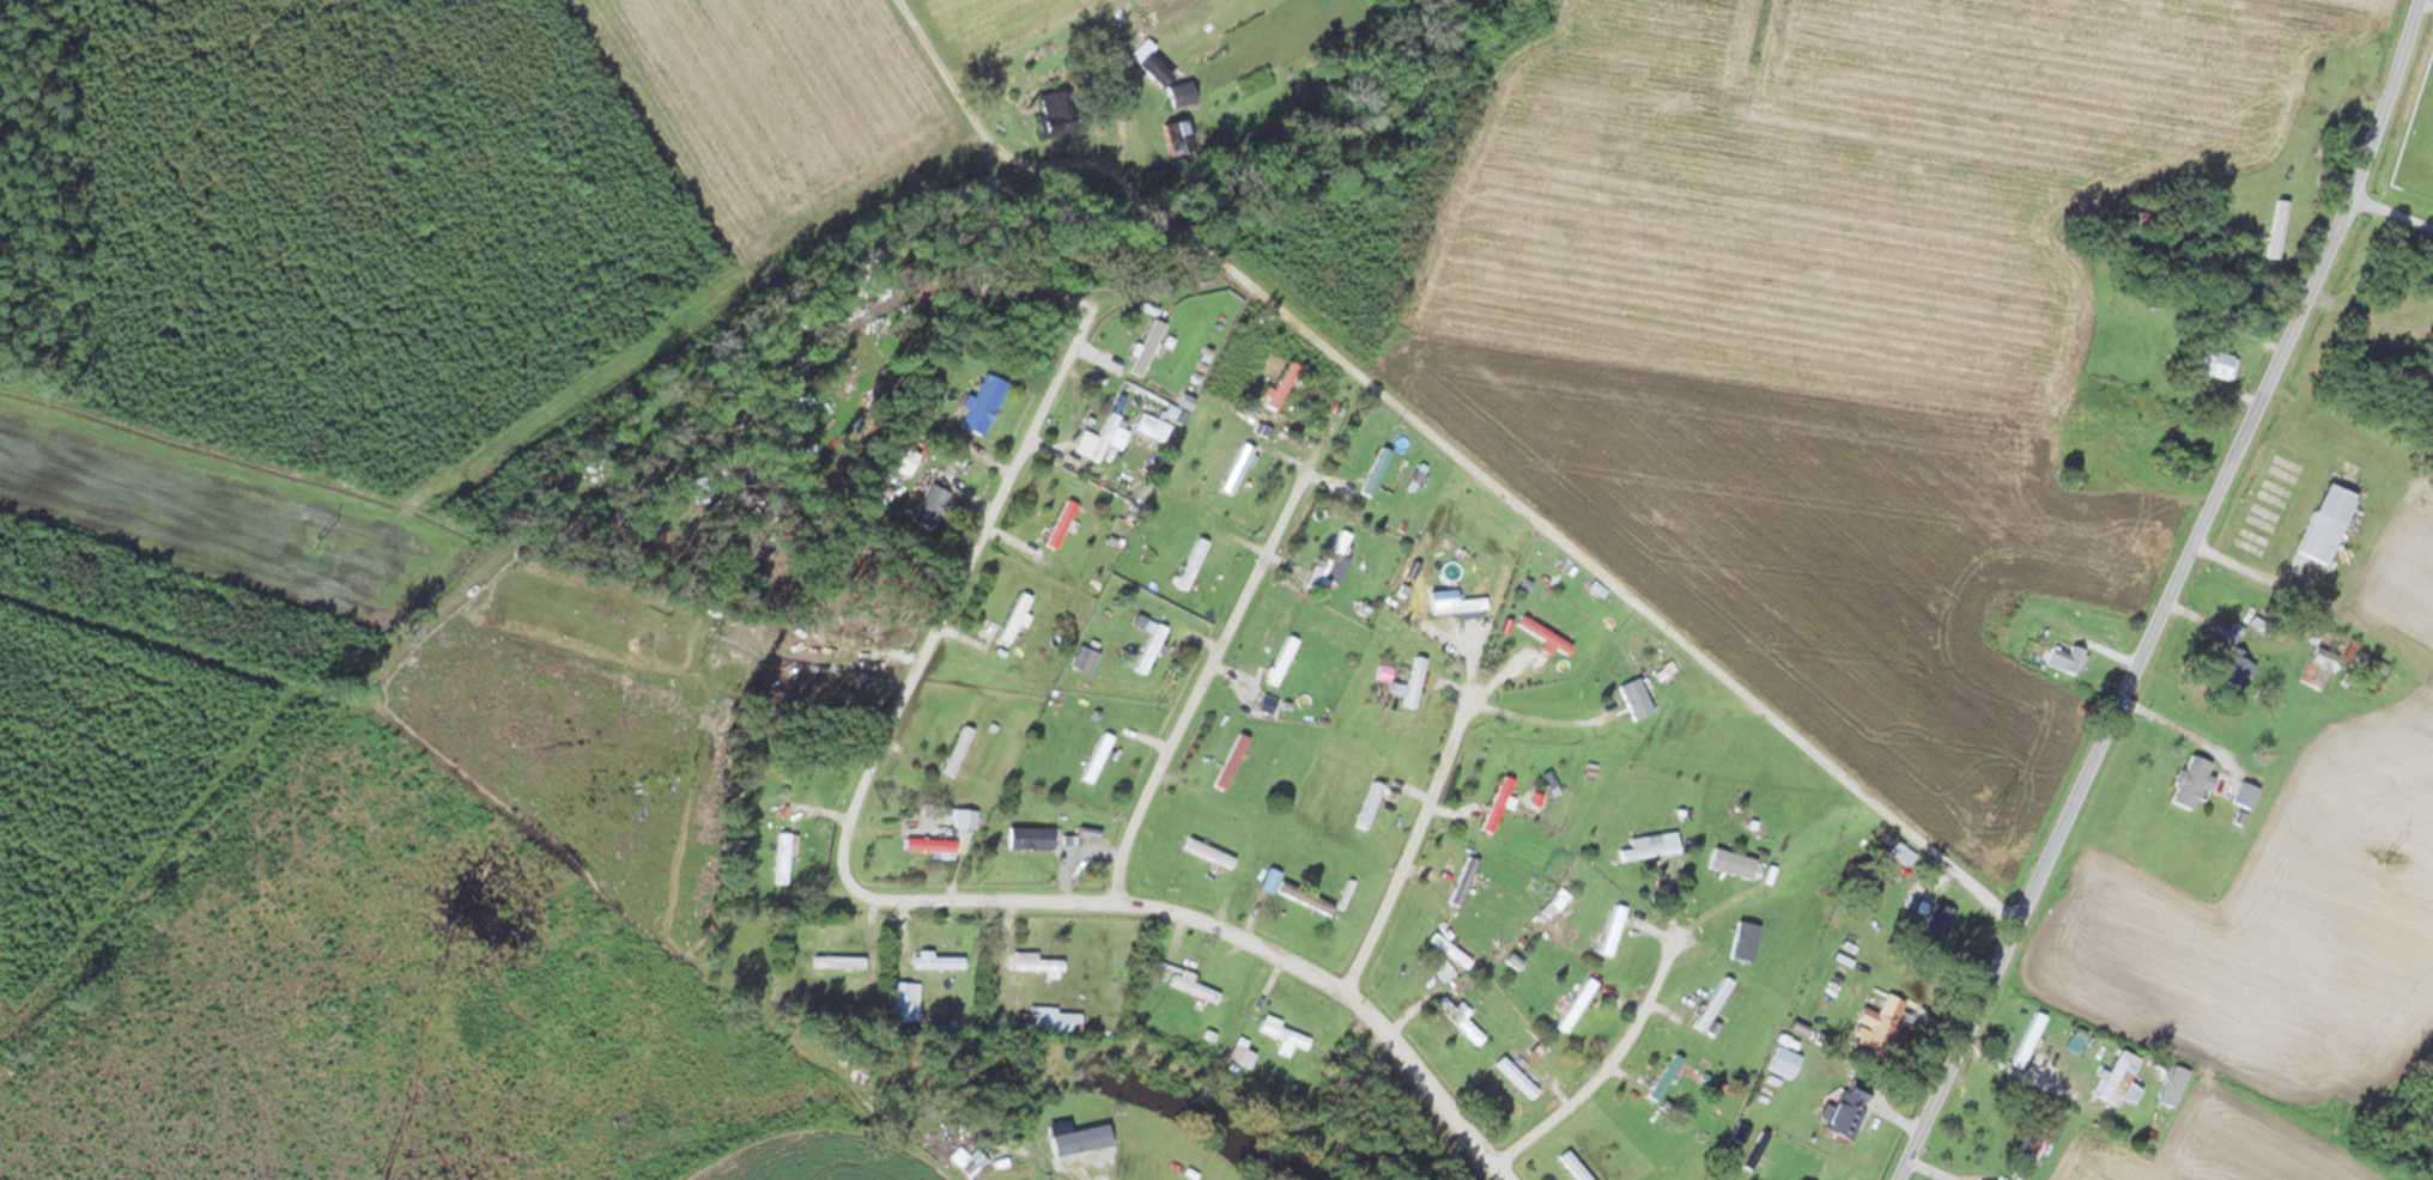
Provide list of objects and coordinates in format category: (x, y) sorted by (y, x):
building: (1177, 16)
building: (1148, 65)
building: (1178, 95)
building: (1173, 138)
building: (2140, 213)
road: (2395, 215)
building: (1145, 352)
building: (2217, 365)
building: (1281, 385)
building: (982, 405)
building: (1152, 425)
building: (1104, 437)
building: (2170, 464)
building: (1237, 469)
building: (1375, 473)
road: (1488, 485)
building: (928, 507)
building: (2324, 524)
building: (1060, 525)
road: (991, 536)
power tower: (307, 542)
building: (1190, 564)
building: (1327, 566)
road: (2174, 592)
building: (1456, 606)
building: (1014, 619)
building: (1543, 635)
road: (1228, 643)
building: (1149, 650)
power tower: (712, 652)
building: (2065, 658)
building: (1281, 662)
building: (2317, 669)
building: (2366, 669)
building: (2232, 670)
building: (1413, 682)
building: (1397, 685)
building: (1634, 699)
power tower: (1153, 705)
building: (957, 752)
building: (1096, 759)
building: (1226, 764)
power tower: (1630, 764)
building: (2191, 783)
building: (2245, 796)
building: (1369, 805)
building: (1497, 805)
power tower: (1997, 810)
building: (964, 819)
building: (1029, 839)
building: (928, 845)
road: (1409, 847)
building: (1648, 852)
building: (783, 857)
power tower: (2386, 859)
building: (1730, 864)
building: (1463, 882)
building: (1316, 898)
road: (1188, 920)
building: (1936, 927)
building: (1612, 931)
building: (1743, 942)
building: (838, 962)
building: (936, 962)
building: (1032, 963)
building: (1177, 979)
building: (902, 1000)
building: (1712, 1004)
building: (1576, 1005)
building: (1458, 1021)
building: (1050, 1022)
building: (1879, 1023)
building: (1282, 1033)
building: (2027, 1040)
building: (1539, 1054)
building: (1239, 1057)
building: (1783, 1063)
road: (1604, 1068)
building: (1513, 1077)
building: (1664, 1078)
building: (2116, 1078)
building: (1845, 1109)
building: (2024, 1160)
building: (1657, 1162)
building: (1572, 1167)
road: (1075, 1168)
building: (1675, 1172)
building: (1179, 1178)

